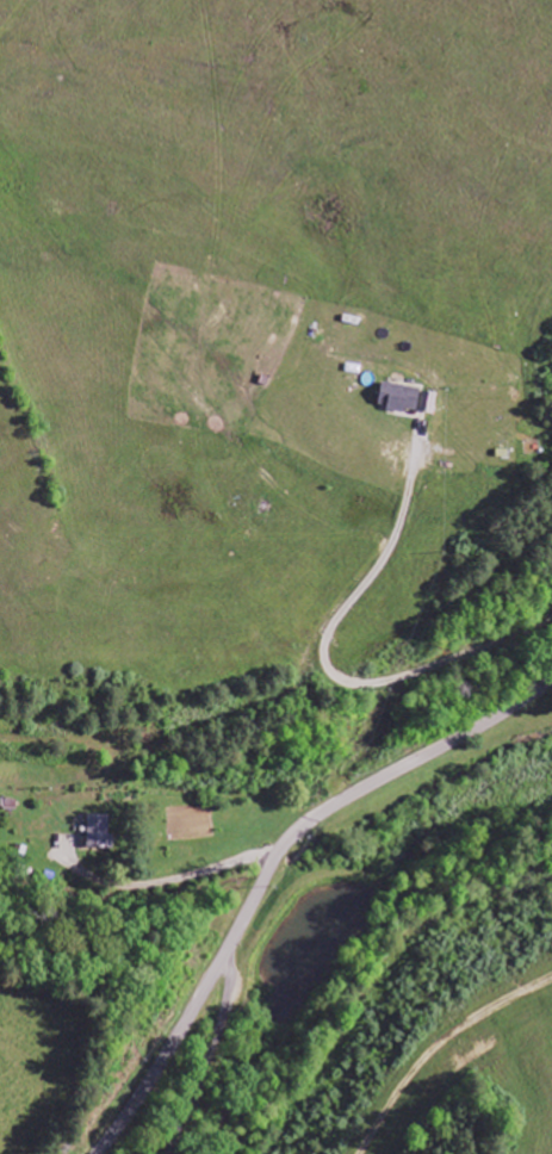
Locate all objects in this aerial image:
building: (409, 398)
road: (328, 658)
road: (358, 788)
building: (100, 832)
road: (159, 883)
road: (223, 960)
road: (161, 1057)
road: (201, 1060)

